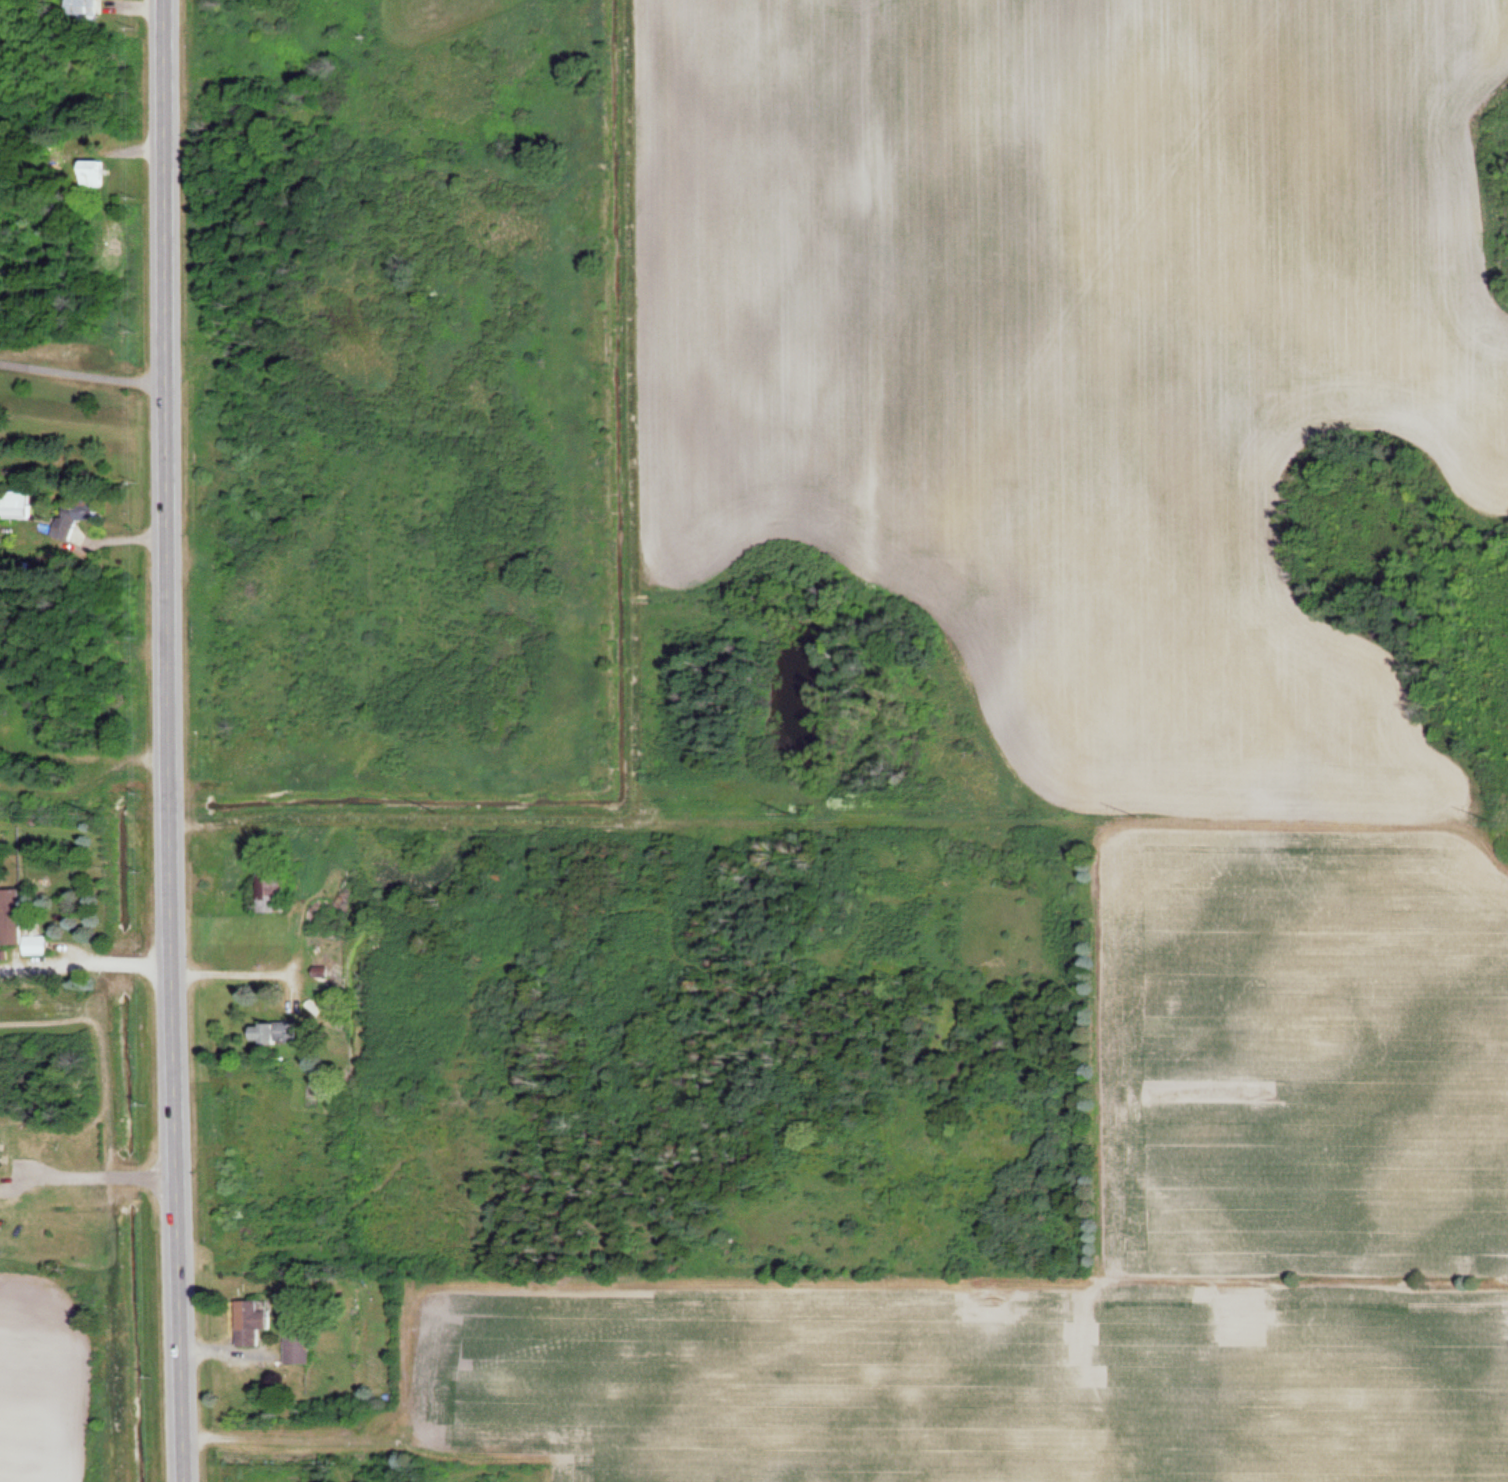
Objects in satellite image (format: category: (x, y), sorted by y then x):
building: (85, 10)
building: (98, 173)
building: (18, 504)
building: (92, 513)
road: (171, 741)
building: (282, 891)
building: (23, 923)
building: (277, 1031)
building: (254, 1321)
building: (299, 1347)

